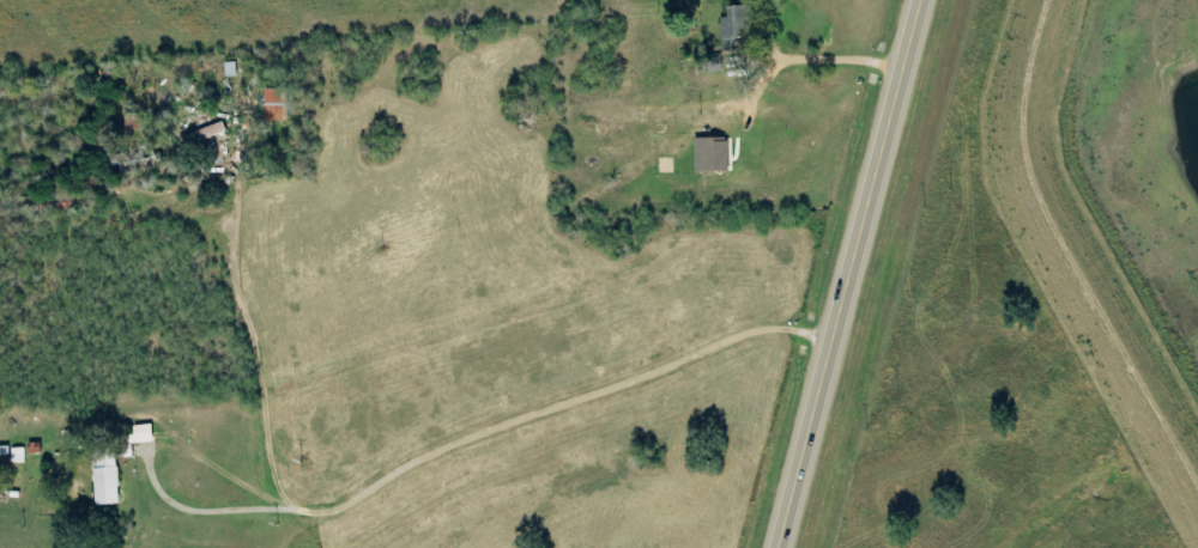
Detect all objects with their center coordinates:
building: (737, 23)
building: (277, 106)
building: (716, 156)
road: (182, 272)
road: (854, 273)
building: (134, 440)
building: (18, 456)
road: (624, 465)
building: (107, 476)

